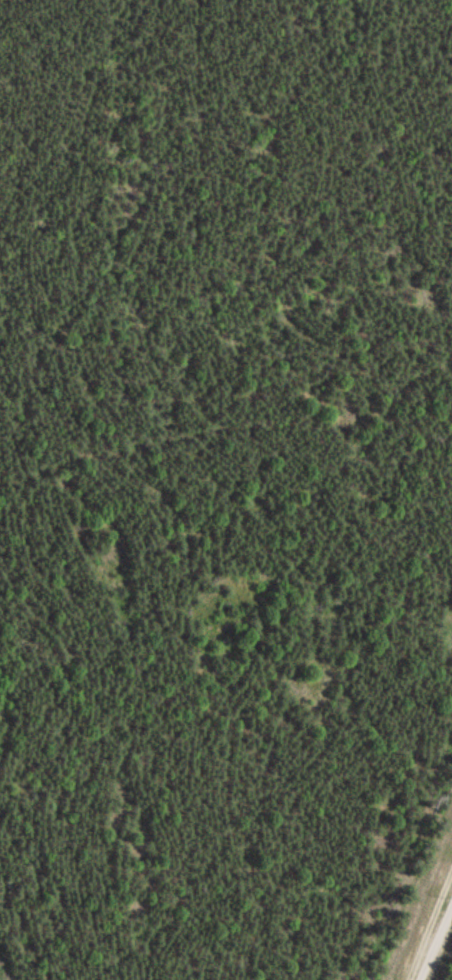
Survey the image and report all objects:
road: (435, 939)

